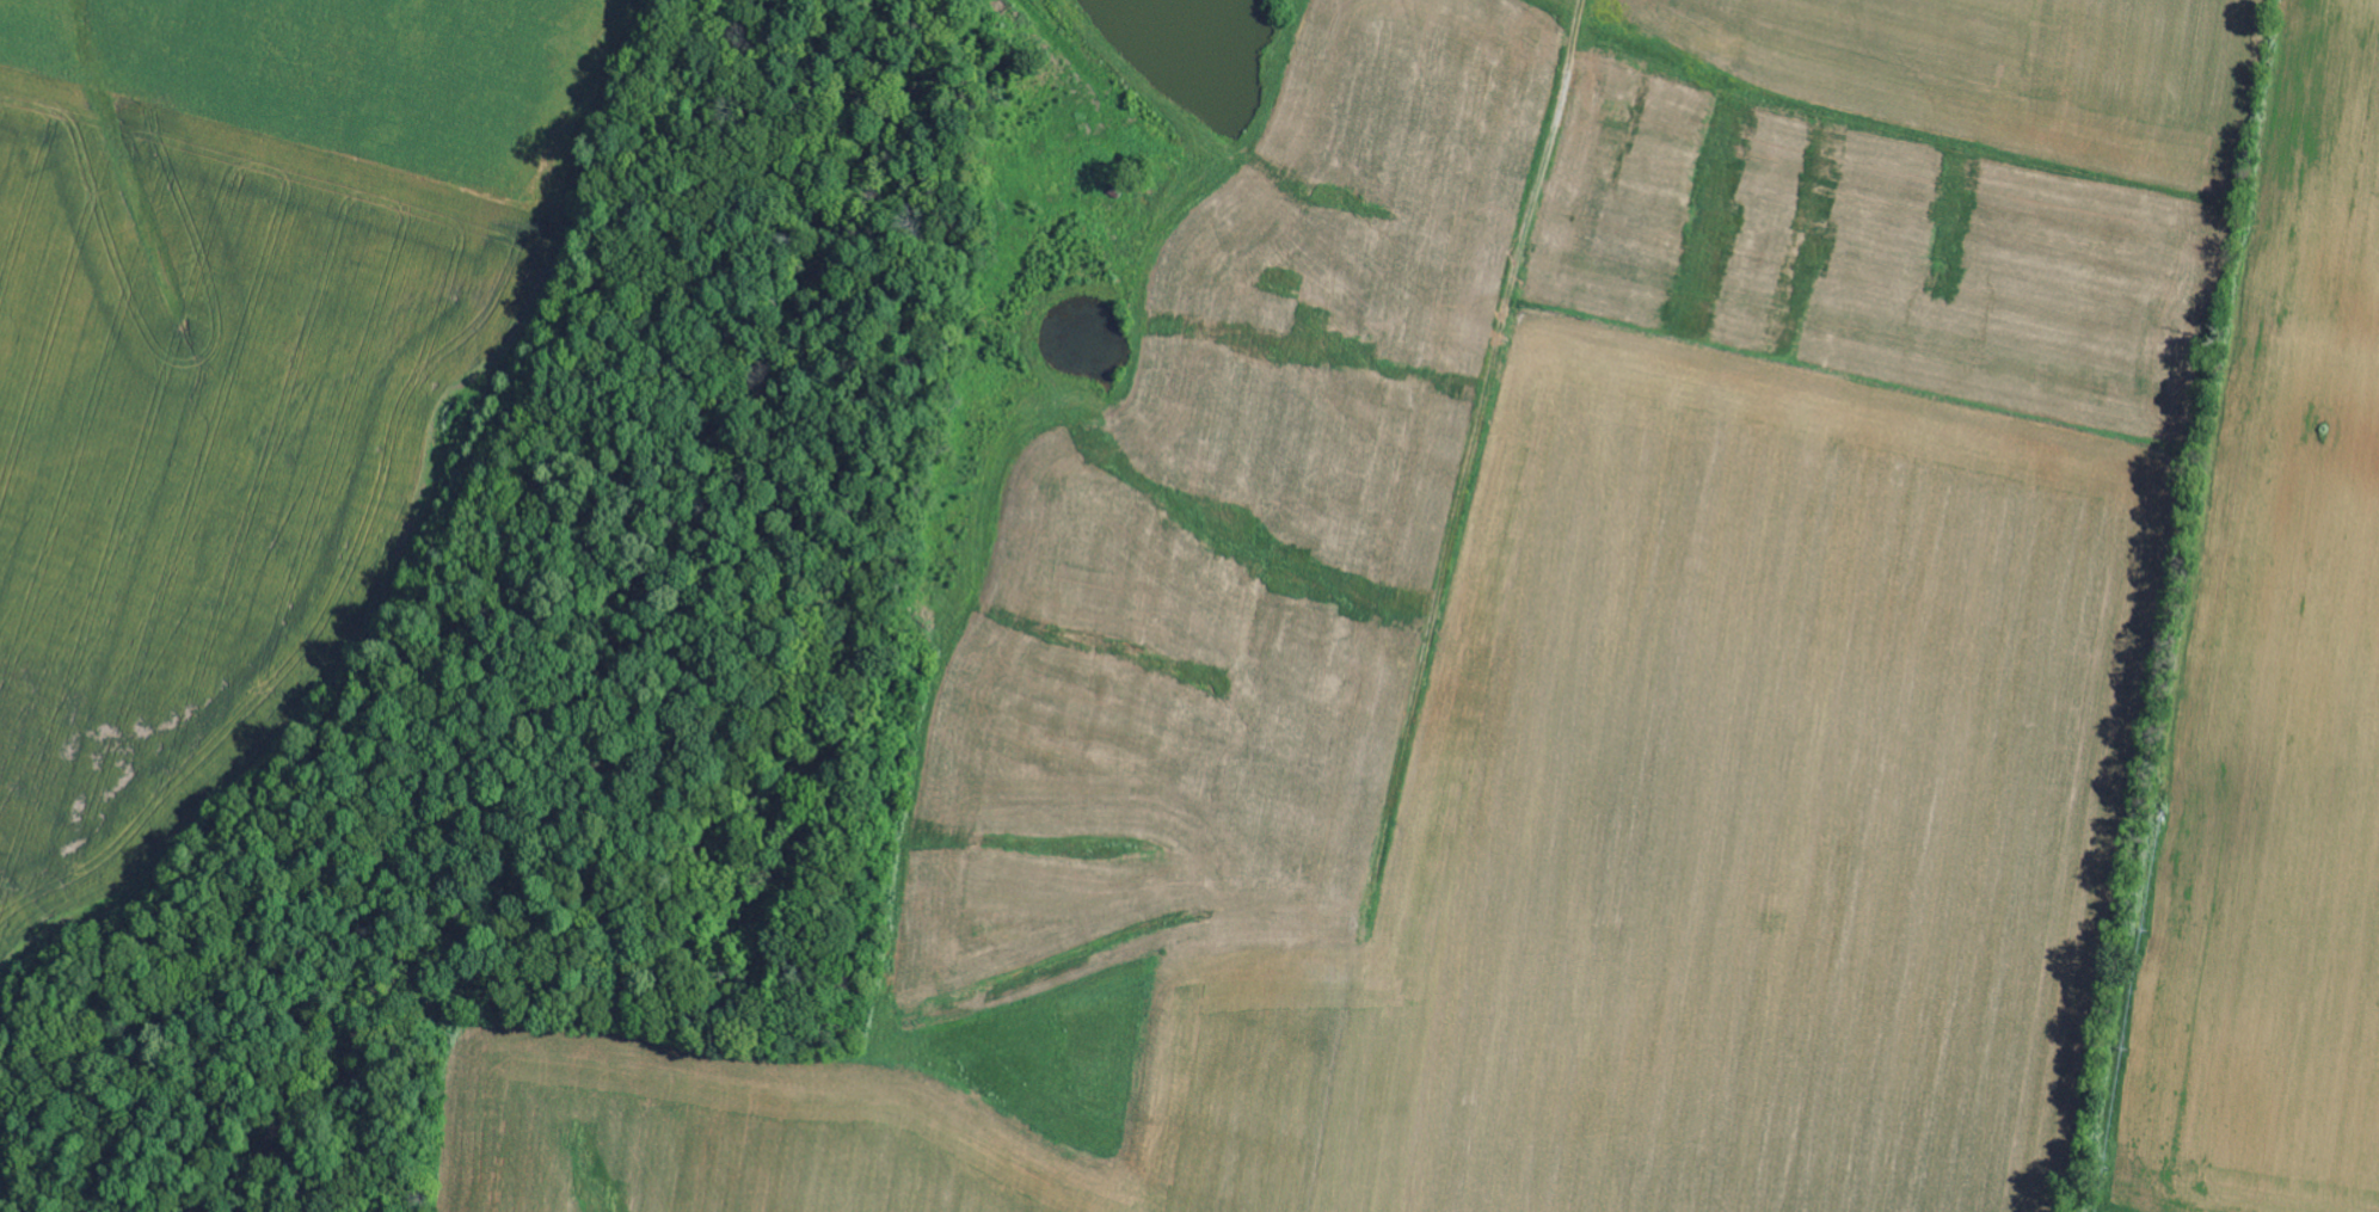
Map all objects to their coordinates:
river: (798, 694)

